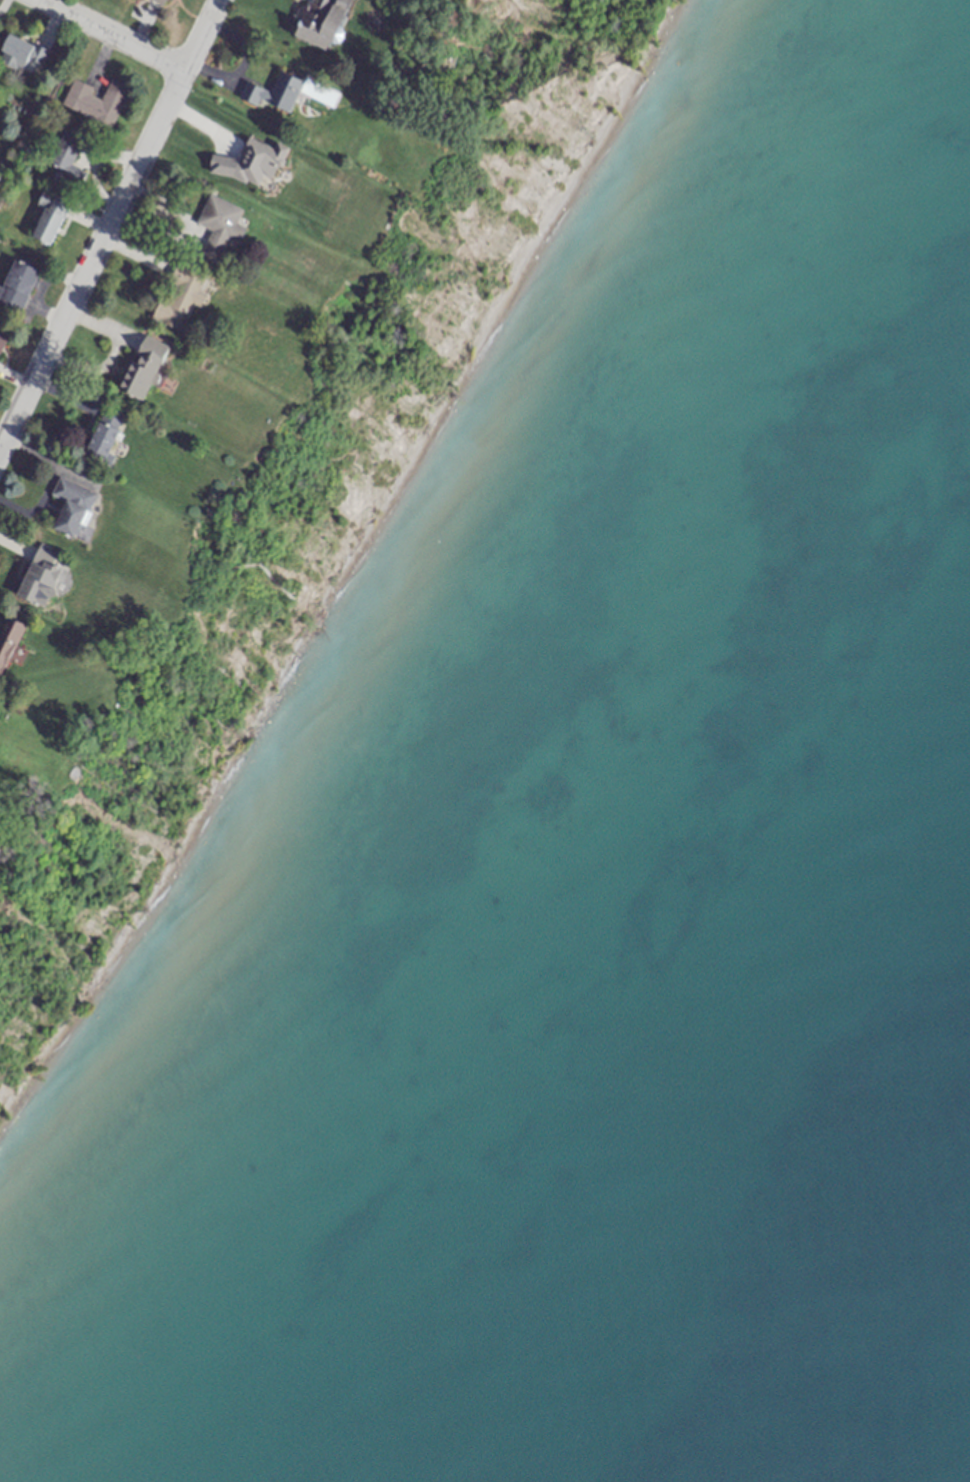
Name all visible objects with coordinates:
building: (158, 1)
building: (322, 22)
road: (115, 33)
building: (22, 54)
road: (243, 63)
building: (289, 92)
building: (95, 101)
building: (68, 158)
building: (50, 216)
road: (108, 223)
building: (220, 227)
building: (17, 284)
building: (180, 296)
building: (2, 337)
building: (143, 367)
building: (105, 434)
building: (73, 507)
building: (44, 578)
building: (8, 642)

